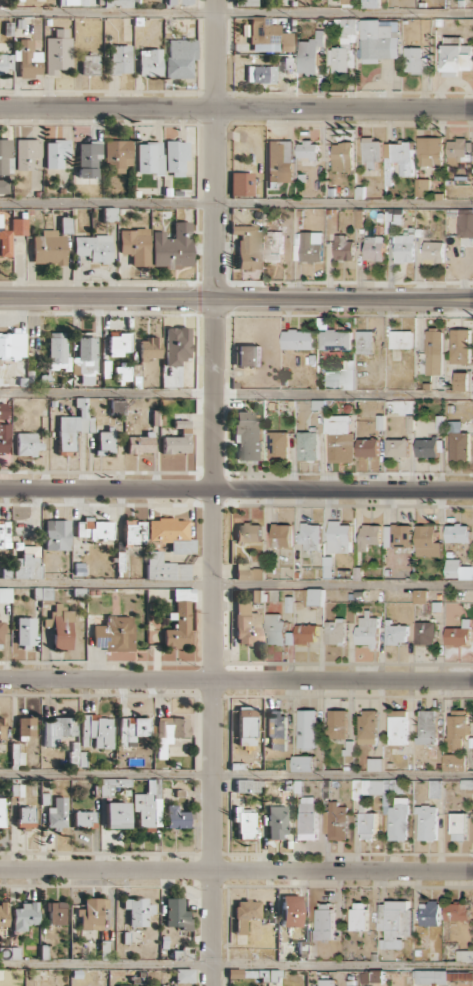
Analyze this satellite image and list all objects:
building: (348, 1)
building: (73, 2)
building: (178, 2)
building: (250, 2)
building: (370, 3)
road: (236, 13)
building: (269, 36)
building: (364, 43)
building: (58, 52)
building: (309, 54)
building: (456, 56)
building: (28, 58)
building: (180, 58)
building: (120, 59)
building: (415, 61)
building: (149, 62)
building: (6, 63)
building: (90, 64)
building: (284, 66)
building: (261, 74)
road: (236, 109)
building: (307, 149)
building: (459, 150)
building: (429, 151)
building: (372, 152)
building: (26, 153)
building: (56, 153)
building: (117, 155)
building: (400, 155)
building: (5, 156)
building: (343, 156)
building: (175, 157)
building: (149, 158)
building: (88, 159)
building: (280, 161)
building: (241, 183)
building: (4, 186)
building: (421, 187)
road: (236, 207)
building: (110, 214)
building: (465, 222)
building: (19, 226)
building: (4, 240)
building: (274, 245)
building: (136, 246)
building: (173, 246)
building: (248, 246)
building: (308, 246)
building: (48, 248)
building: (93, 248)
building: (343, 248)
building: (373, 248)
building: (403, 248)
building: (433, 252)
road: (236, 298)
building: (298, 339)
building: (401, 339)
building: (335, 340)
building: (365, 342)
building: (119, 343)
building: (11, 344)
building: (176, 345)
building: (460, 346)
building: (87, 348)
building: (149, 348)
building: (58, 350)
building: (434, 352)
building: (248, 355)
building: (122, 373)
building: (340, 378)
building: (462, 381)
road: (236, 394)
building: (117, 406)
building: (399, 407)
building: (3, 410)
building: (410, 423)
building: (74, 425)
building: (247, 436)
building: (4, 438)
building: (339, 438)
building: (178, 439)
building: (105, 442)
building: (458, 442)
building: (27, 444)
building: (140, 444)
building: (308, 445)
building: (278, 446)
building: (367, 447)
building: (397, 447)
building: (427, 447)
road: (236, 489)
road: (214, 493)
building: (93, 529)
building: (133, 532)
building: (248, 532)
building: (457, 533)
building: (4, 534)
building: (56, 534)
building: (171, 534)
building: (281, 535)
building: (310, 535)
building: (369, 536)
building: (397, 536)
building: (338, 539)
building: (427, 541)
building: (28, 563)
building: (165, 568)
building: (458, 570)
building: (248, 572)
road: (236, 583)
building: (42, 593)
building: (5, 595)
building: (257, 595)
building: (420, 596)
building: (316, 597)
building: (180, 619)
building: (247, 624)
building: (60, 627)
building: (275, 629)
building: (335, 631)
building: (367, 631)
building: (26, 632)
building: (306, 633)
building: (425, 633)
building: (115, 634)
building: (396, 634)
building: (1, 635)
building: (459, 635)
road: (236, 680)
building: (337, 724)
building: (246, 726)
building: (368, 726)
building: (1, 727)
building: (25, 727)
building: (398, 727)
building: (427, 727)
building: (458, 728)
building: (57, 729)
building: (277, 729)
building: (308, 729)
building: (132, 730)
building: (96, 731)
building: (170, 732)
building: (454, 762)
building: (303, 763)
building: (375, 764)
road: (236, 775)
building: (248, 785)
building: (435, 788)
building: (386, 804)
building: (149, 805)
building: (1, 811)
building: (57, 813)
building: (116, 815)
building: (25, 817)
building: (176, 818)
building: (307, 818)
building: (84, 819)
building: (337, 821)
building: (244, 822)
building: (277, 822)
building: (426, 822)
building: (459, 826)
road: (236, 870)
building: (138, 911)
building: (291, 911)
building: (456, 911)
building: (57, 913)
building: (91, 913)
building: (429, 913)
building: (177, 914)
building: (245, 914)
building: (3, 915)
building: (24, 916)
building: (359, 916)
building: (324, 921)
building: (395, 922)
road: (236, 965)
building: (234, 973)
building: (184, 975)
building: (371, 976)
building: (325, 982)

